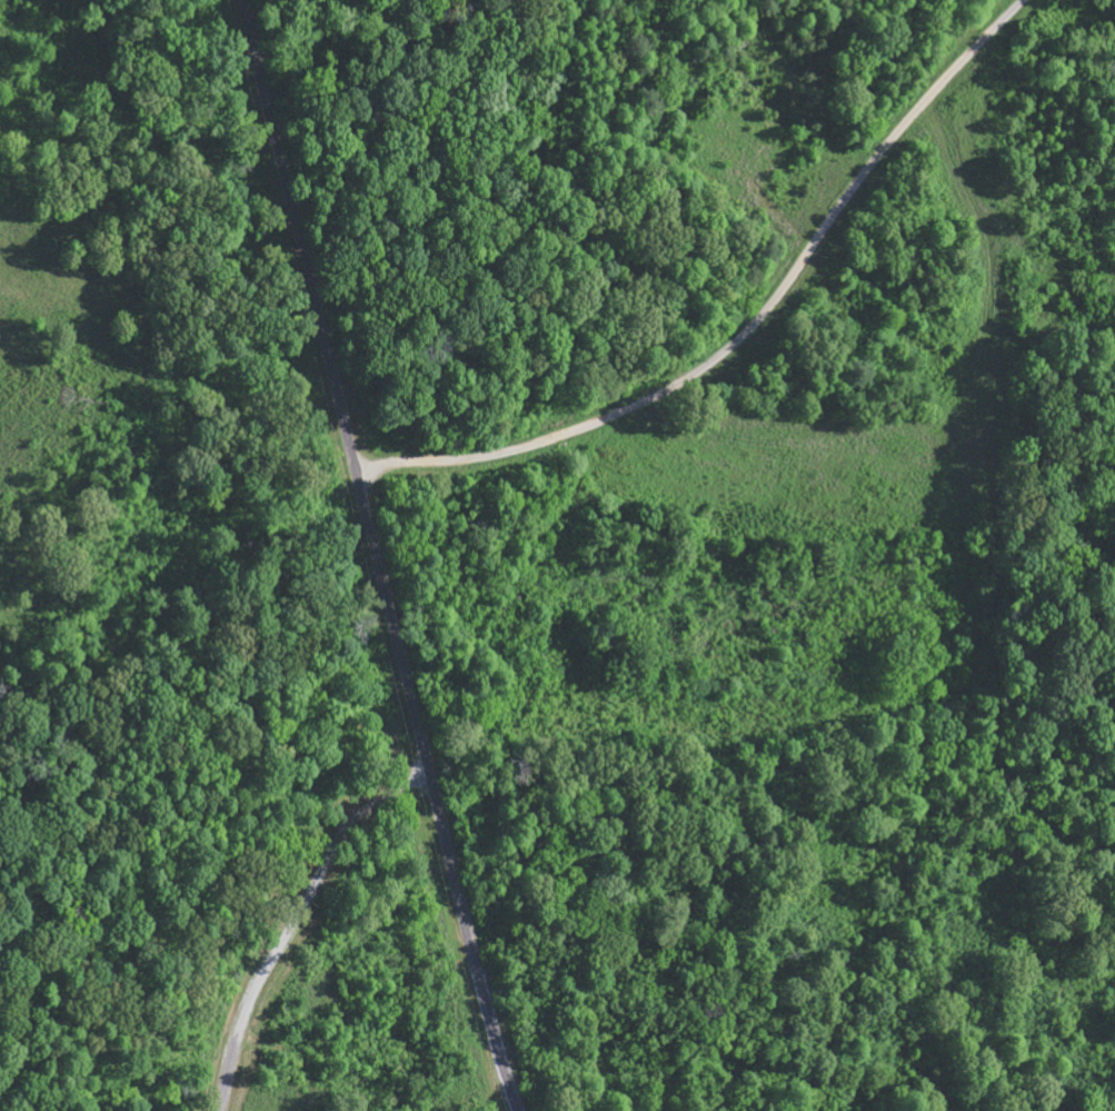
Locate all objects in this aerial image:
road: (506, 361)
road: (401, 746)

